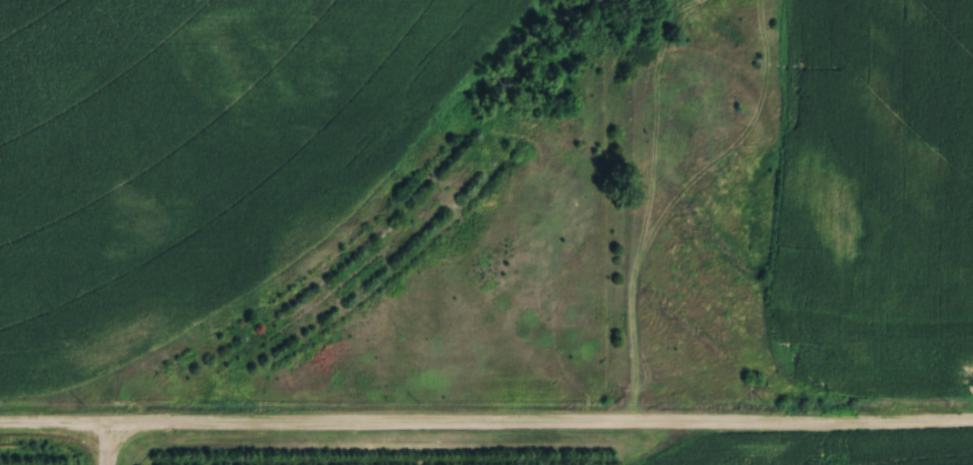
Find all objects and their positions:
road: (486, 425)
road: (101, 446)

